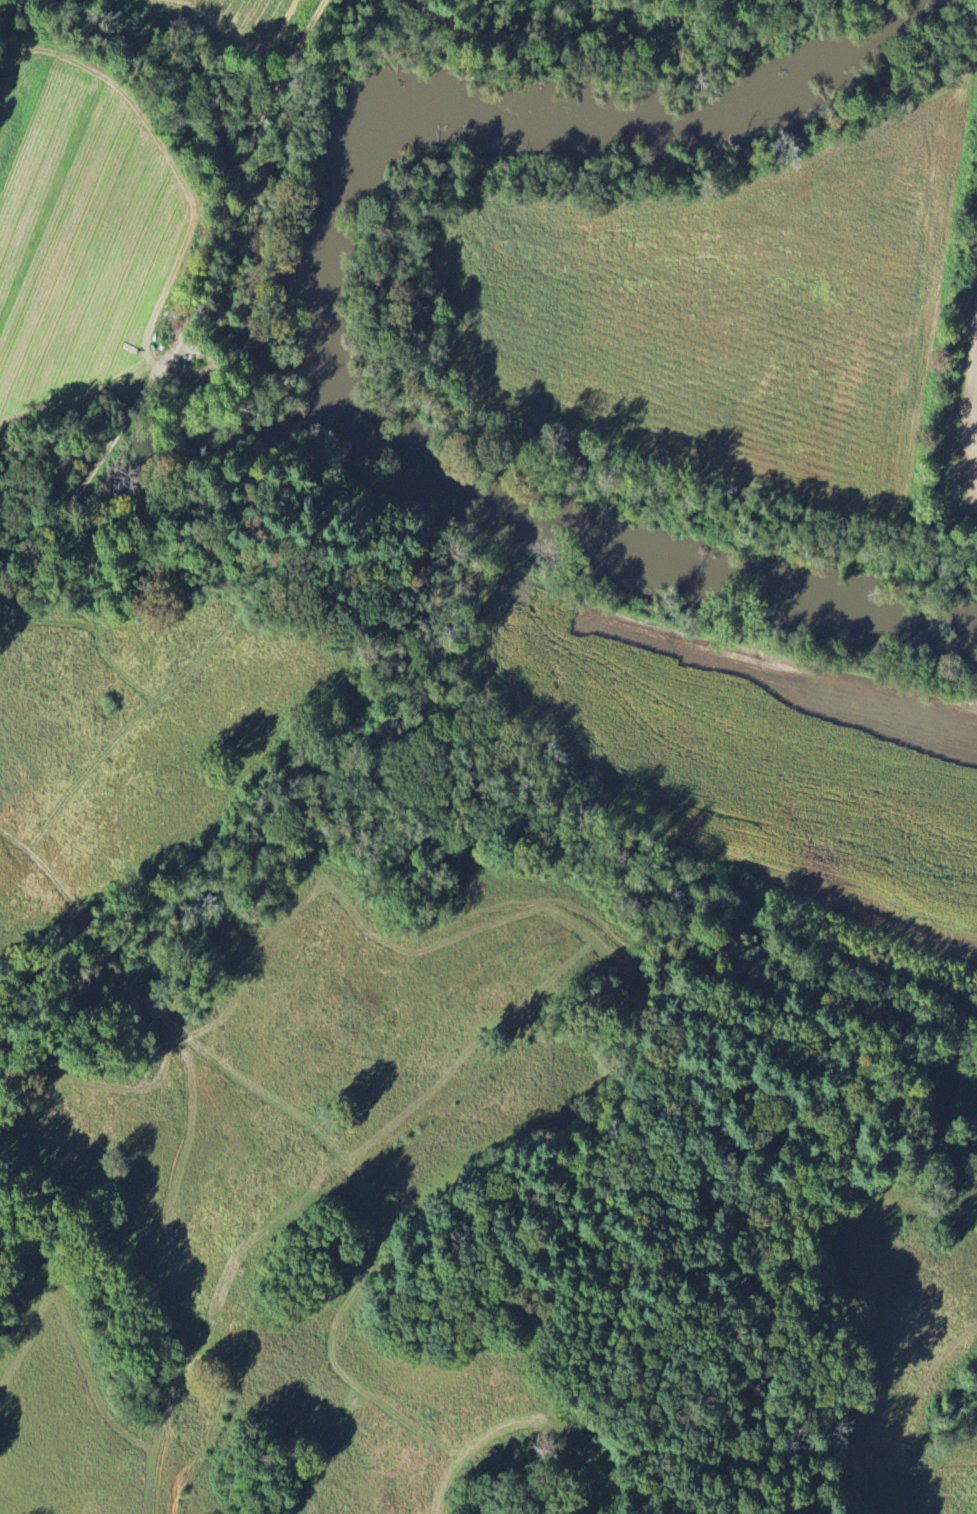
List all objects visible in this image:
river: (655, 121)
river: (323, 274)
river: (381, 450)
river: (699, 564)

